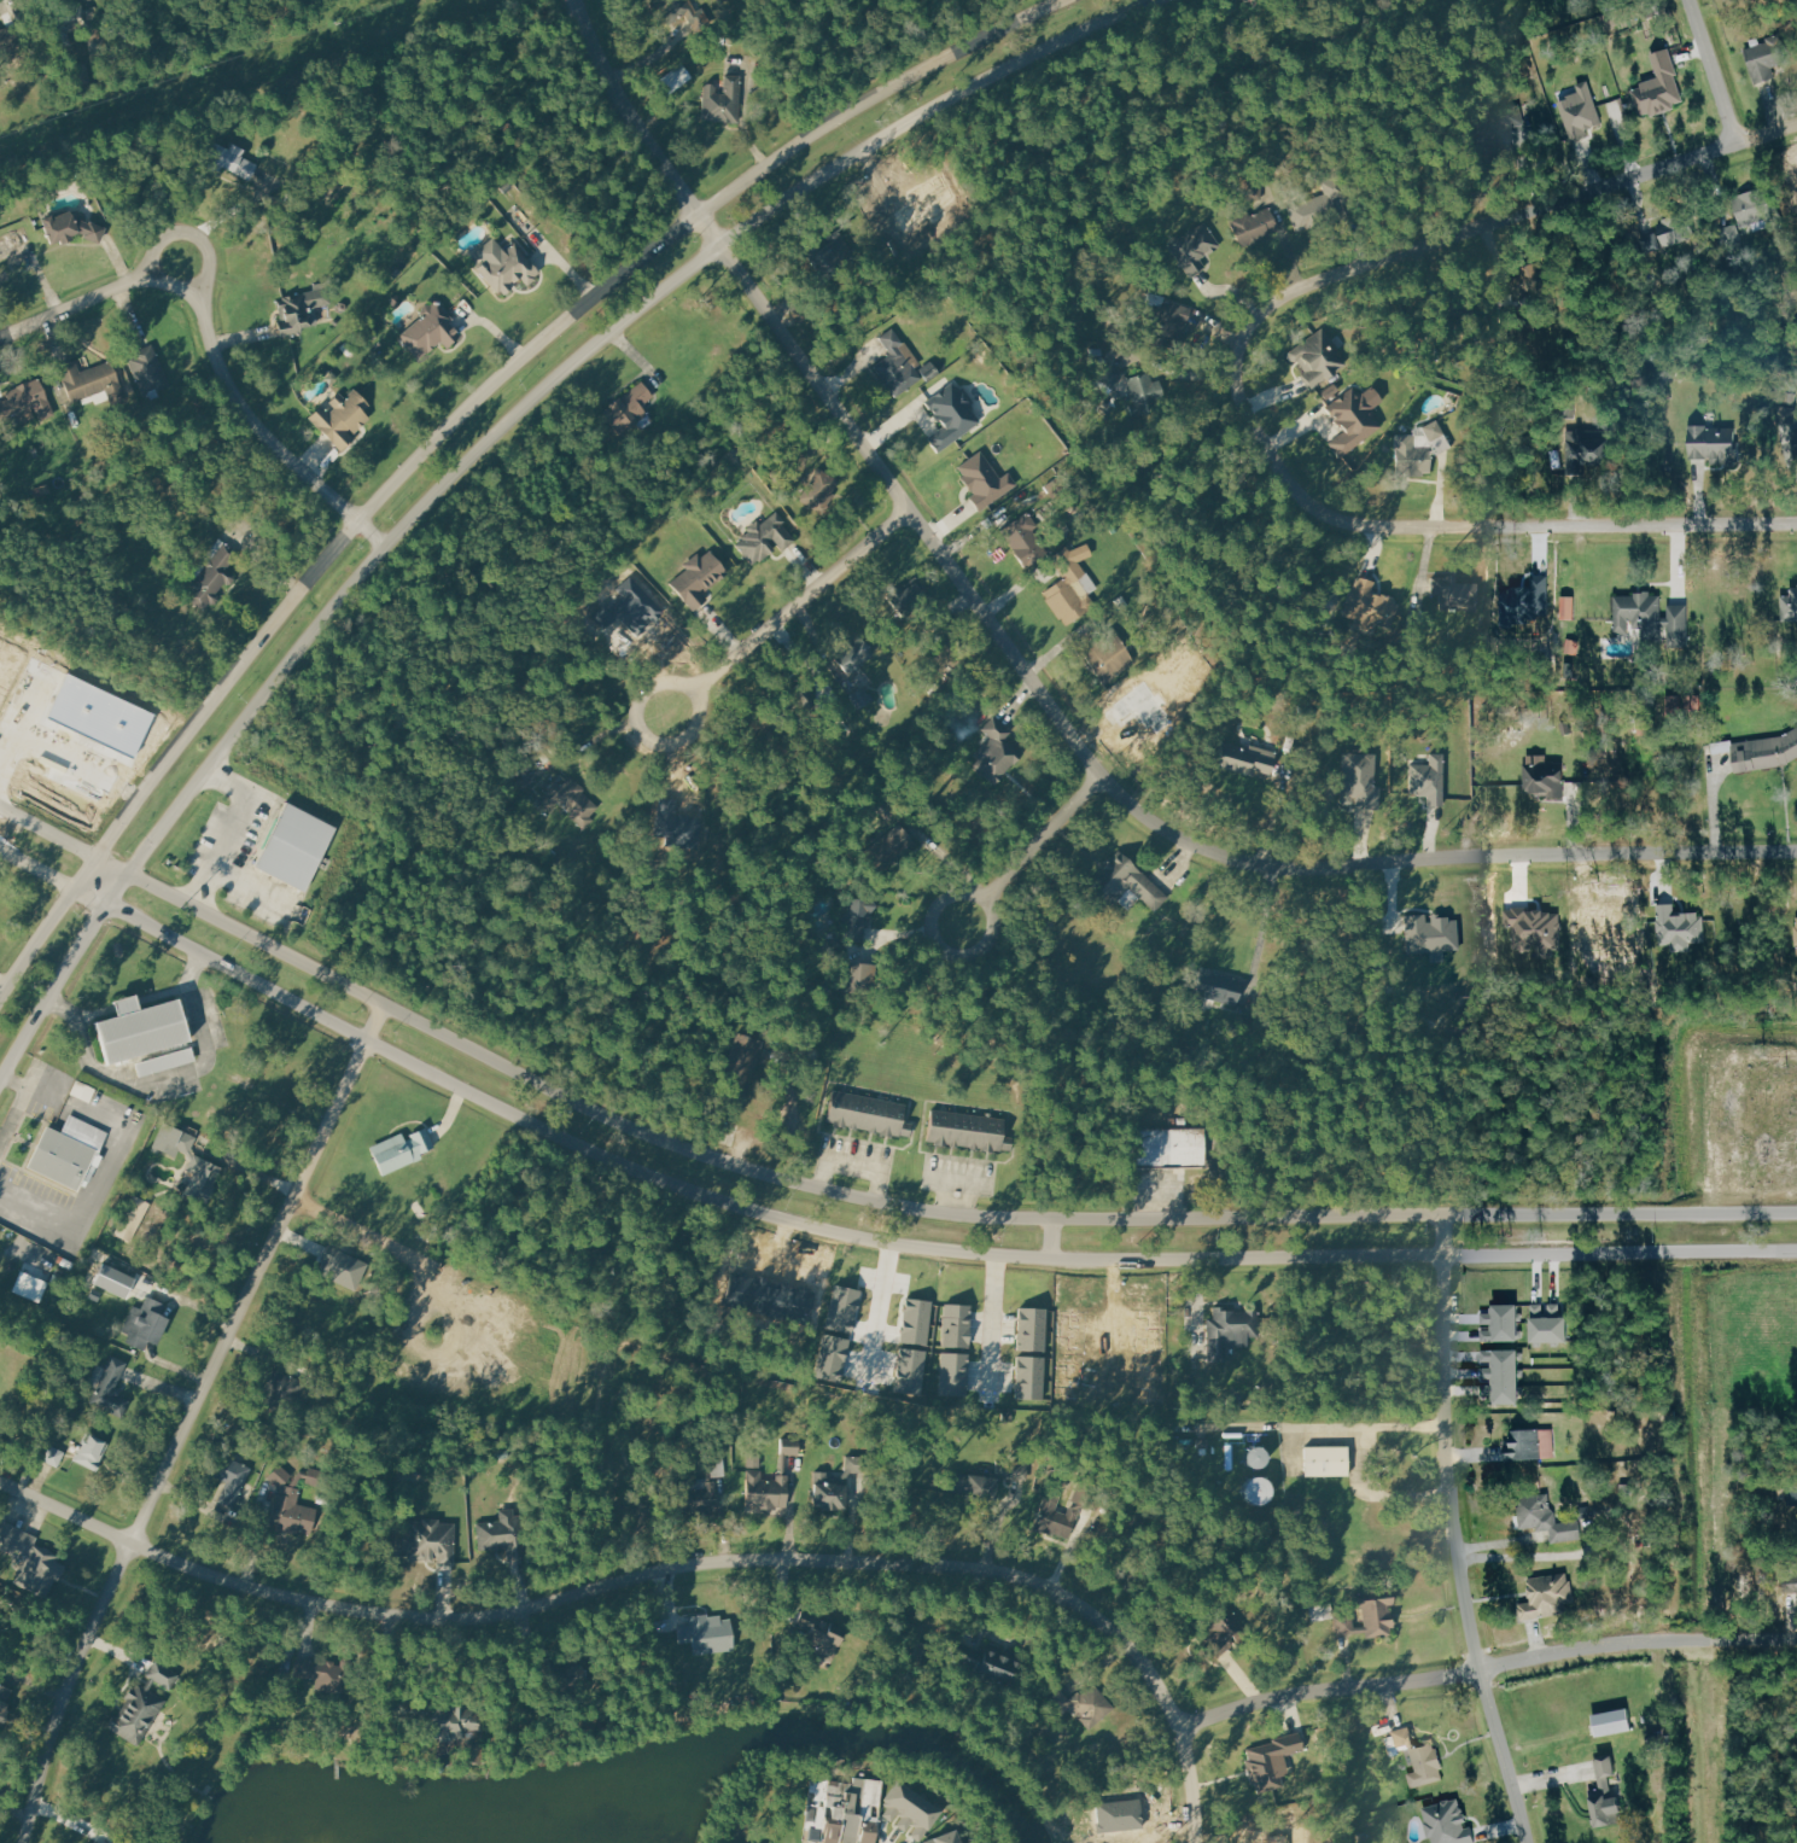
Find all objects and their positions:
building: (678, 11)
building: (80, 17)
building: (11, 40)
building: (1766, 57)
road: (1713, 70)
building: (676, 78)
building: (1658, 86)
building: (723, 99)
building: (1581, 109)
building: (1506, 117)
road: (745, 118)
building: (231, 161)
building: (934, 202)
building: (1318, 204)
building: (1750, 206)
building: (1253, 224)
building: (70, 227)
building: (1675, 229)
building: (1194, 247)
building: (829, 258)
building: (502, 267)
road: (571, 268)
building: (1531, 291)
building: (299, 309)
building: (1169, 322)
building: (428, 328)
road: (497, 328)
road: (210, 334)
road: (634, 351)
building: (1318, 357)
building: (897, 360)
road: (521, 361)
building: (148, 367)
building: (1116, 369)
road: (1238, 374)
building: (91, 380)
building: (28, 398)
building: (630, 406)
building: (339, 418)
building: (951, 418)
building: (1352, 418)
road: (486, 443)
building: (1710, 445)
building: (1428, 449)
building: (1588, 449)
road: (316, 460)
building: (981, 479)
building: (819, 489)
building: (1025, 538)
building: (766, 540)
road: (270, 564)
building: (214, 570)
building: (698, 581)
building: (1070, 583)
building: (920, 605)
building: (1371, 605)
building: (1789, 607)
building: (1569, 608)
road: (797, 612)
building: (1640, 616)
building: (1676, 622)
building: (853, 653)
building: (1112, 655)
road: (1039, 689)
building: (862, 698)
building: (790, 705)
building: (832, 707)
building: (100, 708)
road: (607, 733)
road: (46, 737)
building: (1766, 751)
building: (997, 752)
building: (1248, 758)
building: (1544, 777)
building: (529, 778)
building: (1429, 781)
building: (1360, 782)
building: (572, 800)
road: (237, 824)
road: (48, 832)
building: (296, 846)
road: (1034, 848)
building: (886, 850)
parking lot: (246, 859)
road: (39, 865)
building: (1125, 881)
road: (255, 886)
building: (859, 915)
building: (1538, 926)
road: (48, 927)
road: (1262, 929)
building: (1681, 929)
building: (1435, 934)
building: (1795, 935)
building: (852, 978)
building: (1218, 986)
road: (2, 988)
road: (135, 1003)
building: (127, 1005)
building: (142, 1031)
building: (165, 1061)
road: (167, 1079)
road: (17, 1080)
road: (739, 1098)
road: (21, 1103)
building: (867, 1112)
building: (965, 1130)
building: (173, 1142)
building: (1167, 1147)
building: (401, 1150)
building: (66, 1151)
road: (854, 1157)
building: (204, 1174)
road: (959, 1180)
road: (975, 1183)
road: (93, 1201)
road: (909, 1206)
building: (132, 1218)
road: (1052, 1236)
road: (898, 1240)
building: (340, 1267)
building: (112, 1282)
building: (29, 1285)
building: (93, 1296)
building: (769, 1297)
road: (1197, 1306)
road: (880, 1308)
building: (841, 1310)
road: (992, 1319)
building: (140, 1322)
building: (915, 1322)
road: (161, 1324)
building: (1503, 1324)
building: (1551, 1324)
building: (955, 1326)
building: (1031, 1330)
building: (1233, 1330)
road: (1112, 1331)
building: (1072, 1332)
building: (1148, 1332)
building: (830, 1358)
building: (909, 1372)
building: (1505, 1375)
building: (952, 1376)
building: (1028, 1378)
building: (1072, 1383)
building: (1149, 1384)
building: (110, 1386)
road: (189, 1416)
road: (1311, 1424)
building: (1524, 1444)
building: (789, 1445)
building: (39, 1448)
building: (89, 1453)
building: (52, 1457)
building: (1328, 1459)
building: (713, 1460)
building: (856, 1464)
building: (1010, 1468)
road: (28, 1476)
building: (229, 1476)
road: (39, 1482)
building: (974, 1485)
building: (765, 1489)
building: (827, 1491)
road: (1378, 1495)
building: (694, 1497)
building: (290, 1505)
road: (27, 1507)
road: (792, 1507)
building: (1055, 1517)
building: (1546, 1517)
road: (1453, 1532)
building: (504, 1534)
building: (432, 1540)
building: (30, 1562)
road: (666, 1568)
building: (1547, 1596)
building: (1320, 1611)
building: (1376, 1611)
building: (1219, 1625)
building: (1344, 1625)
building: (819, 1626)
building: (711, 1633)
road: (1000, 1639)
building: (914, 1652)
building: (988, 1664)
building: (285, 1666)
building: (781, 1669)
road: (1487, 1669)
building: (163, 1674)
building: (326, 1674)
building: (568, 1680)
building: (4, 1699)
building: (1081, 1703)
building: (136, 1713)
building: (445, 1717)
building: (1611, 1722)
building: (1268, 1761)
building: (1424, 1765)
building: (1605, 1791)
building: (818, 1804)
building: (910, 1809)
building: (852, 1810)
building: (870, 1810)
building: (835, 1812)
building: (1118, 1815)
building: (1446, 1822)
building: (1266, 1837)
building: (945, 1838)
building: (94, 1842)

